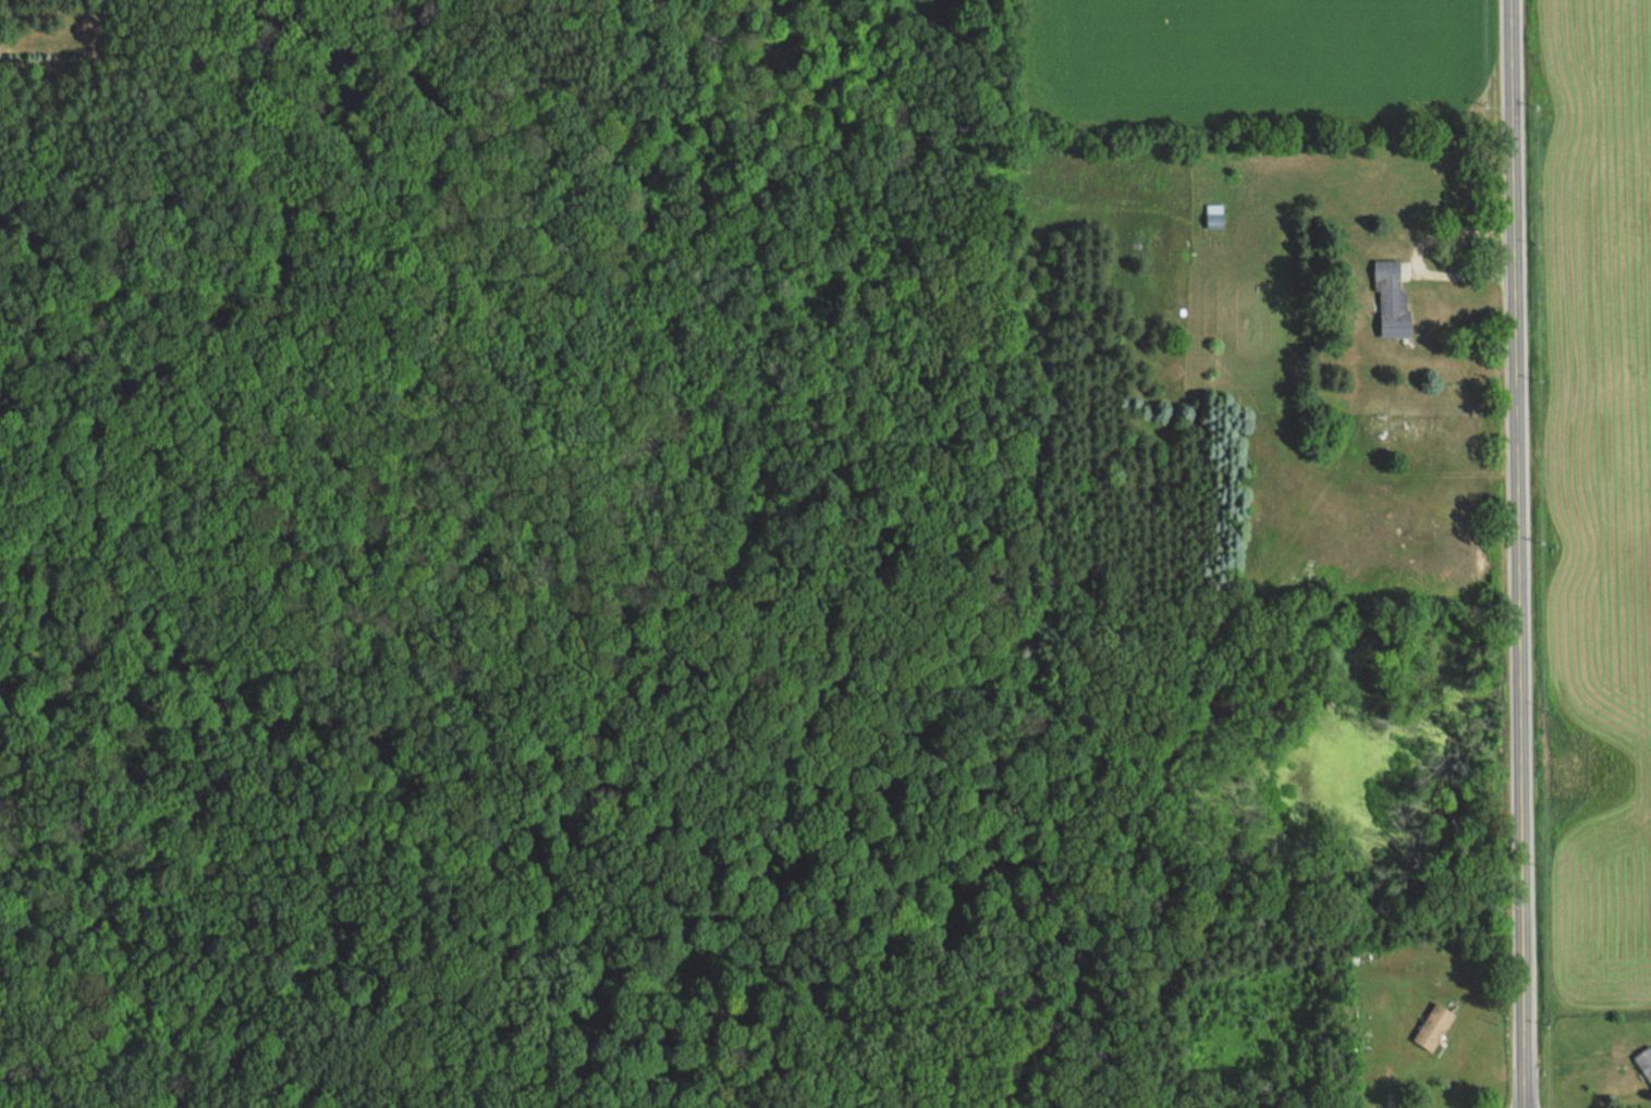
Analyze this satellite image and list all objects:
building: (1213, 216)
building: (1390, 297)
road: (1516, 554)
building: (1432, 1026)
building: (1644, 1062)

